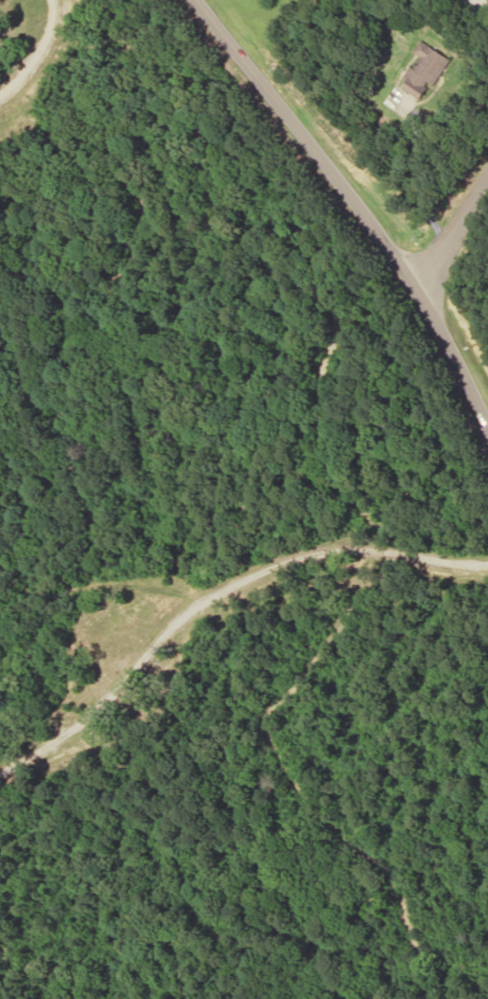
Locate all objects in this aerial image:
building: (426, 66)
road: (352, 201)
road: (452, 233)

